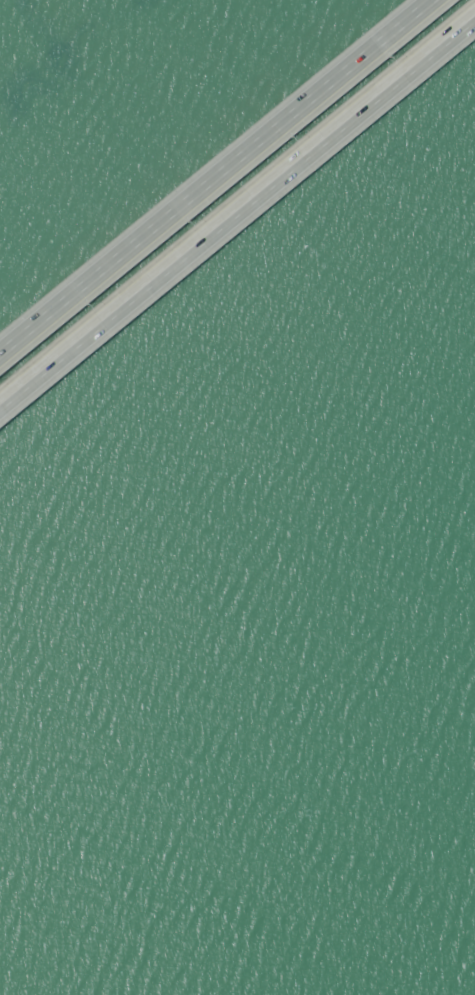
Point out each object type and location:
road: (221, 180)
road: (238, 219)

